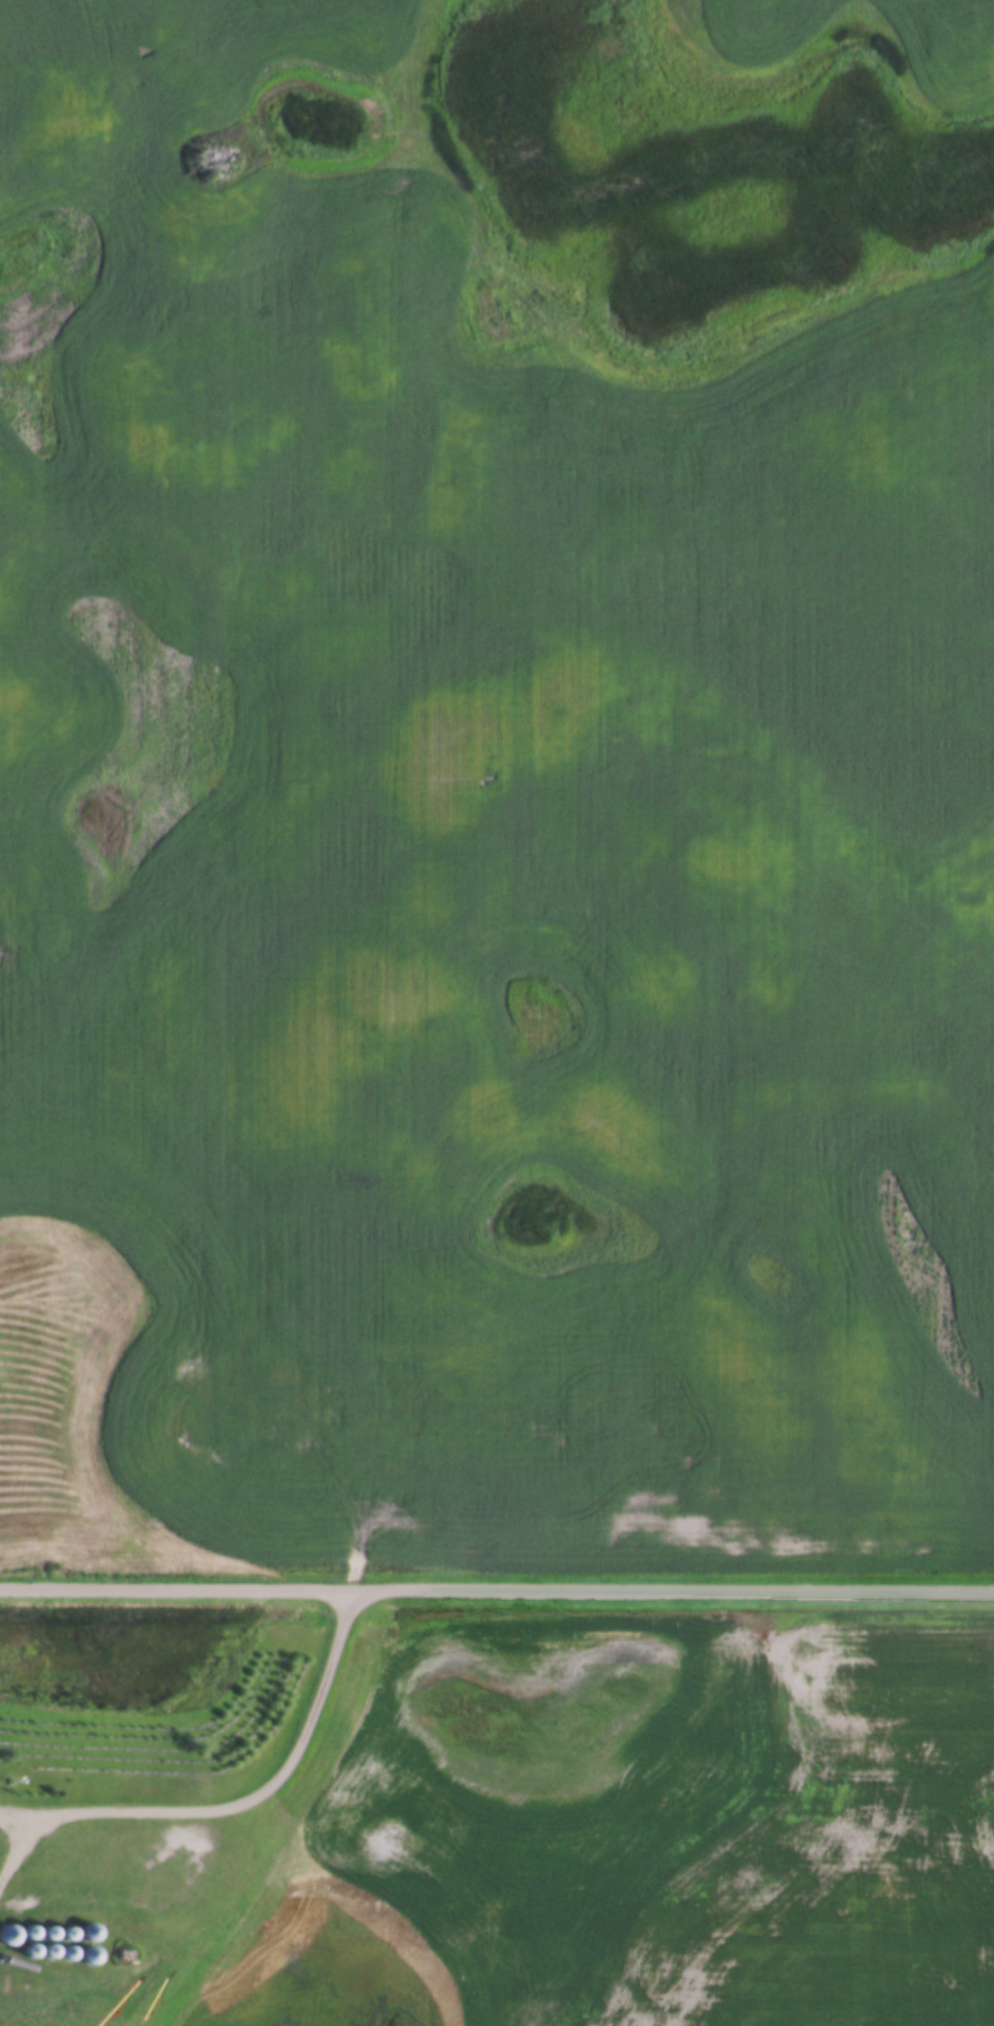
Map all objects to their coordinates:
road: (496, 1586)
road: (246, 1801)
road: (26, 1841)
building: (94, 1932)

